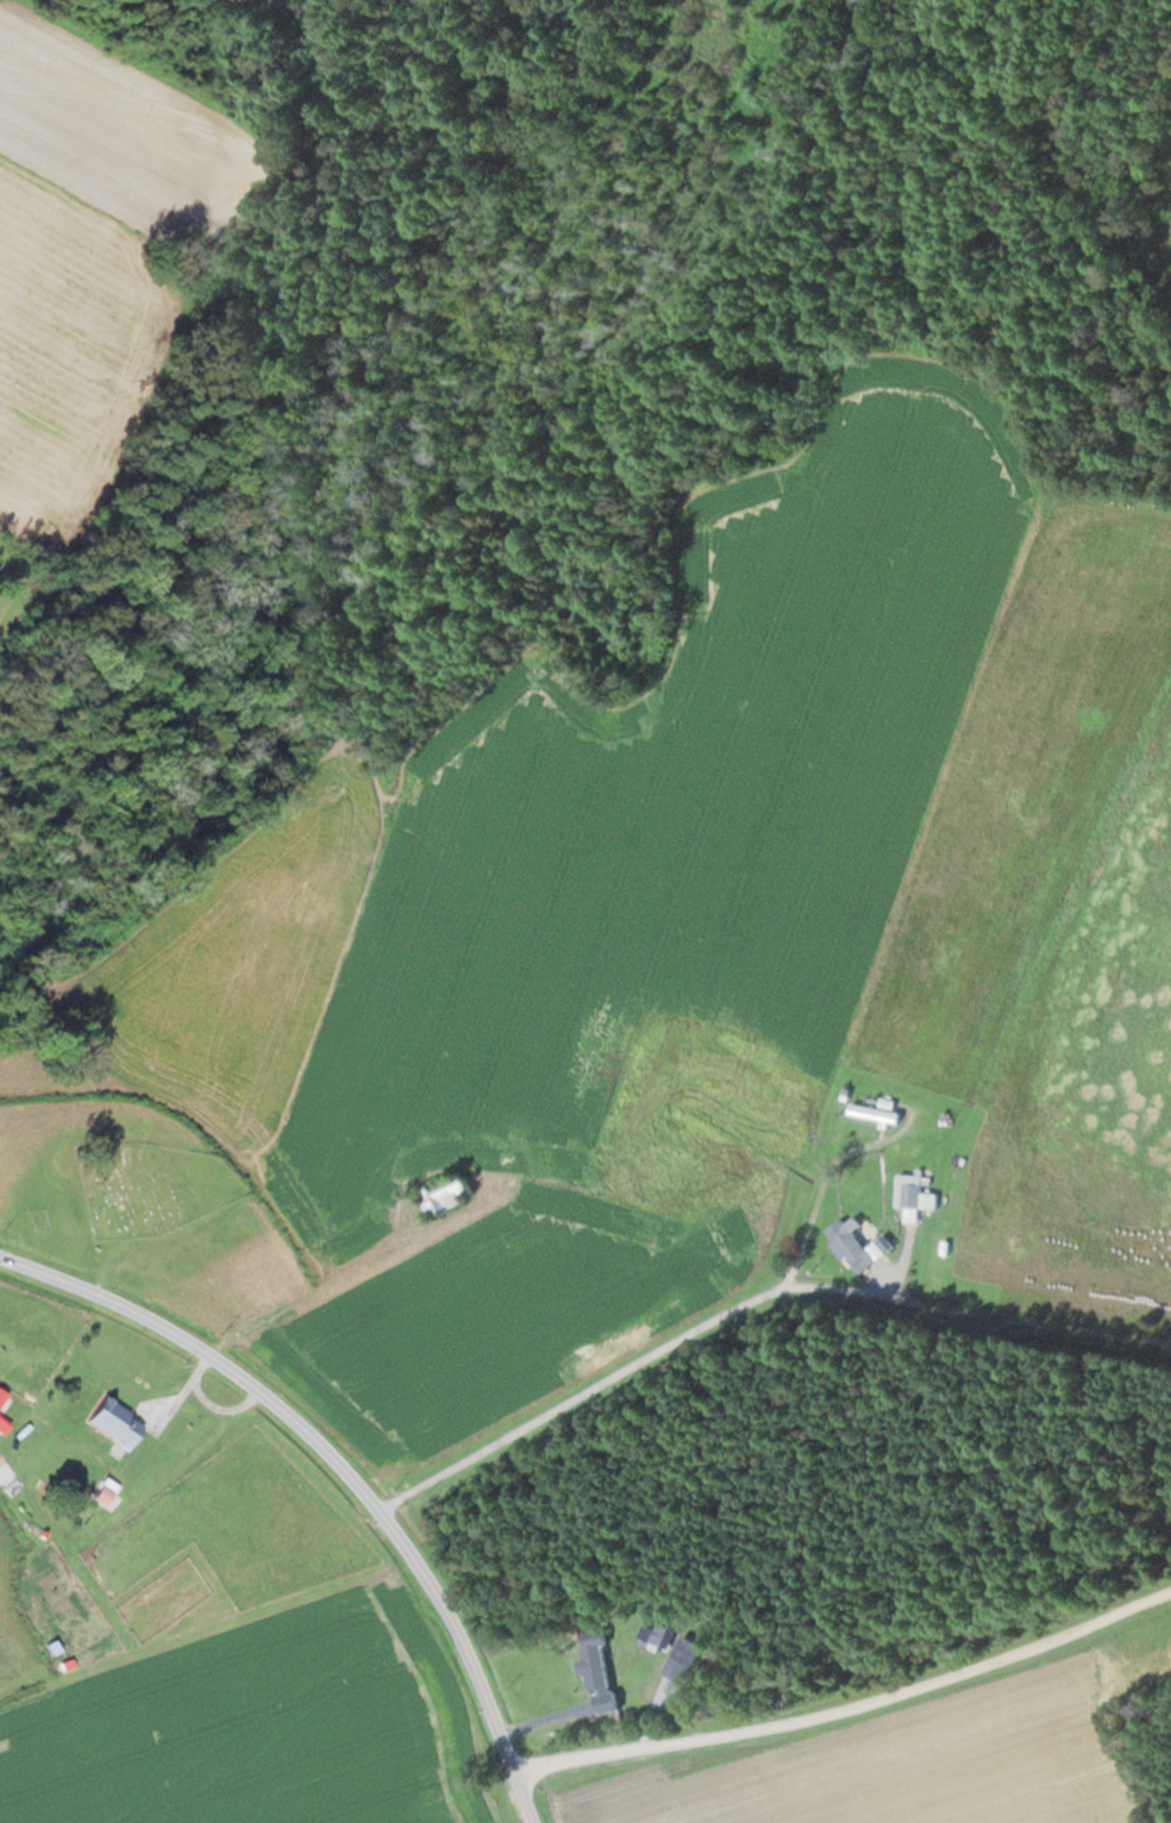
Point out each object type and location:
building: (873, 1116)
building: (908, 1194)
building: (444, 1196)
building: (852, 1247)
road: (749, 1304)
building: (2, 1398)
building: (115, 1423)
building: (2, 1427)
road: (338, 1473)
building: (683, 1660)
building: (597, 1673)
road: (851, 1709)

